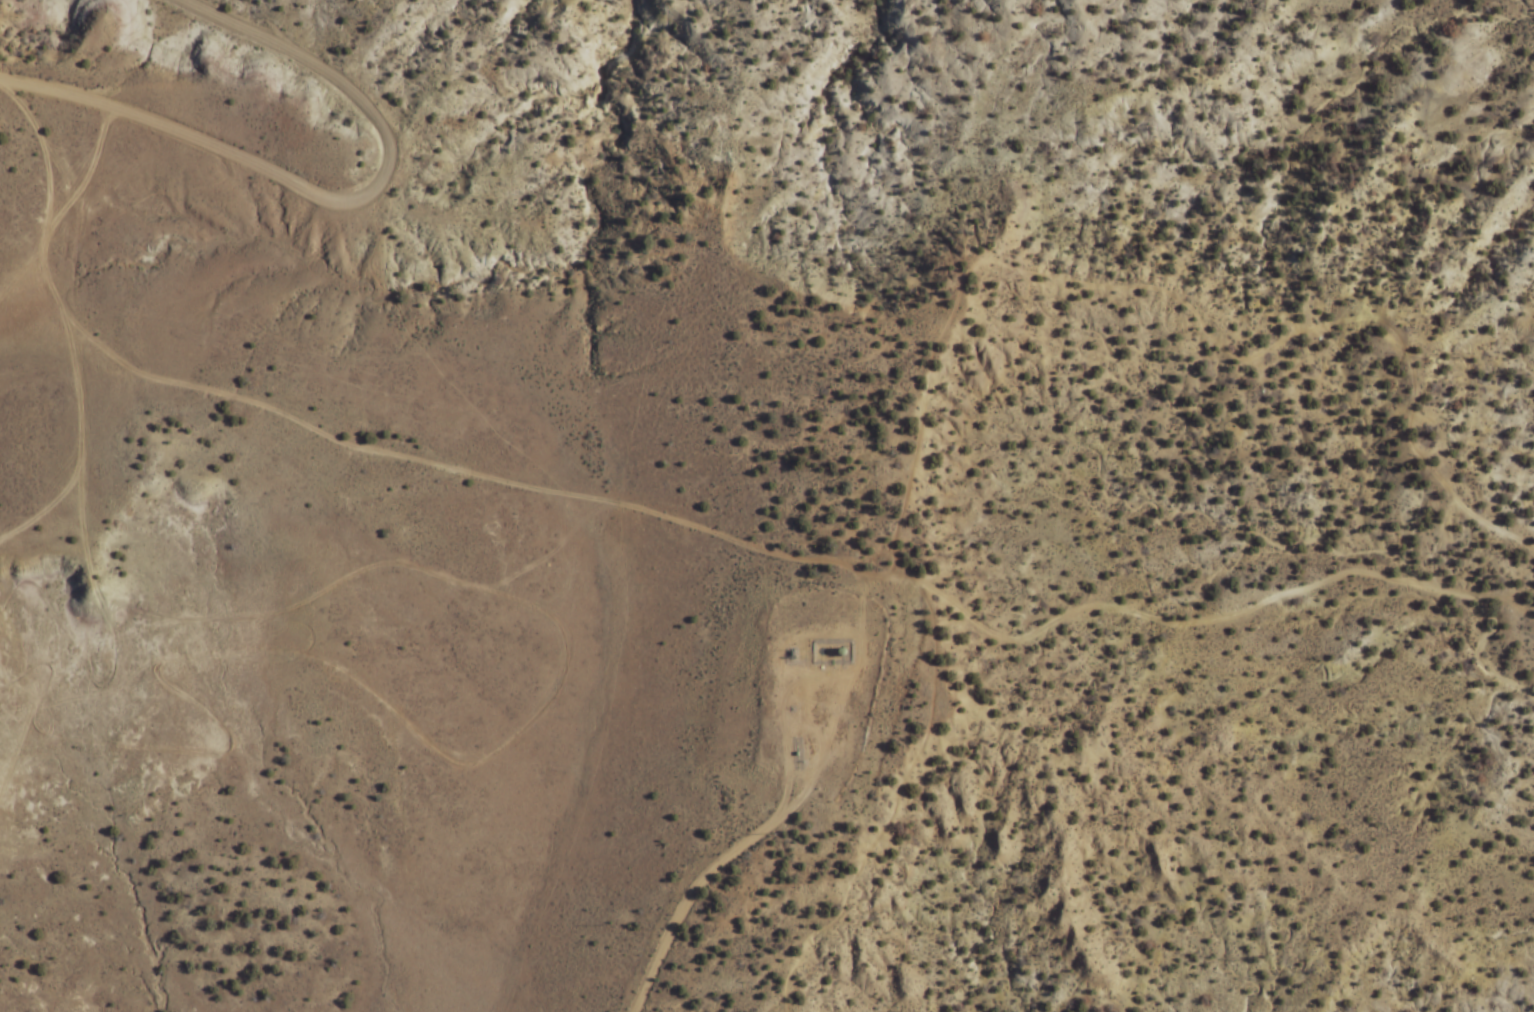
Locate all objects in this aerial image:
road: (78, 172)
road: (328, 205)
road: (1175, 301)
road: (70, 438)
road: (681, 526)
road: (300, 599)
road: (857, 644)
road: (260, 651)
road: (25, 696)
road: (776, 720)
road: (890, 816)
road: (729, 854)

